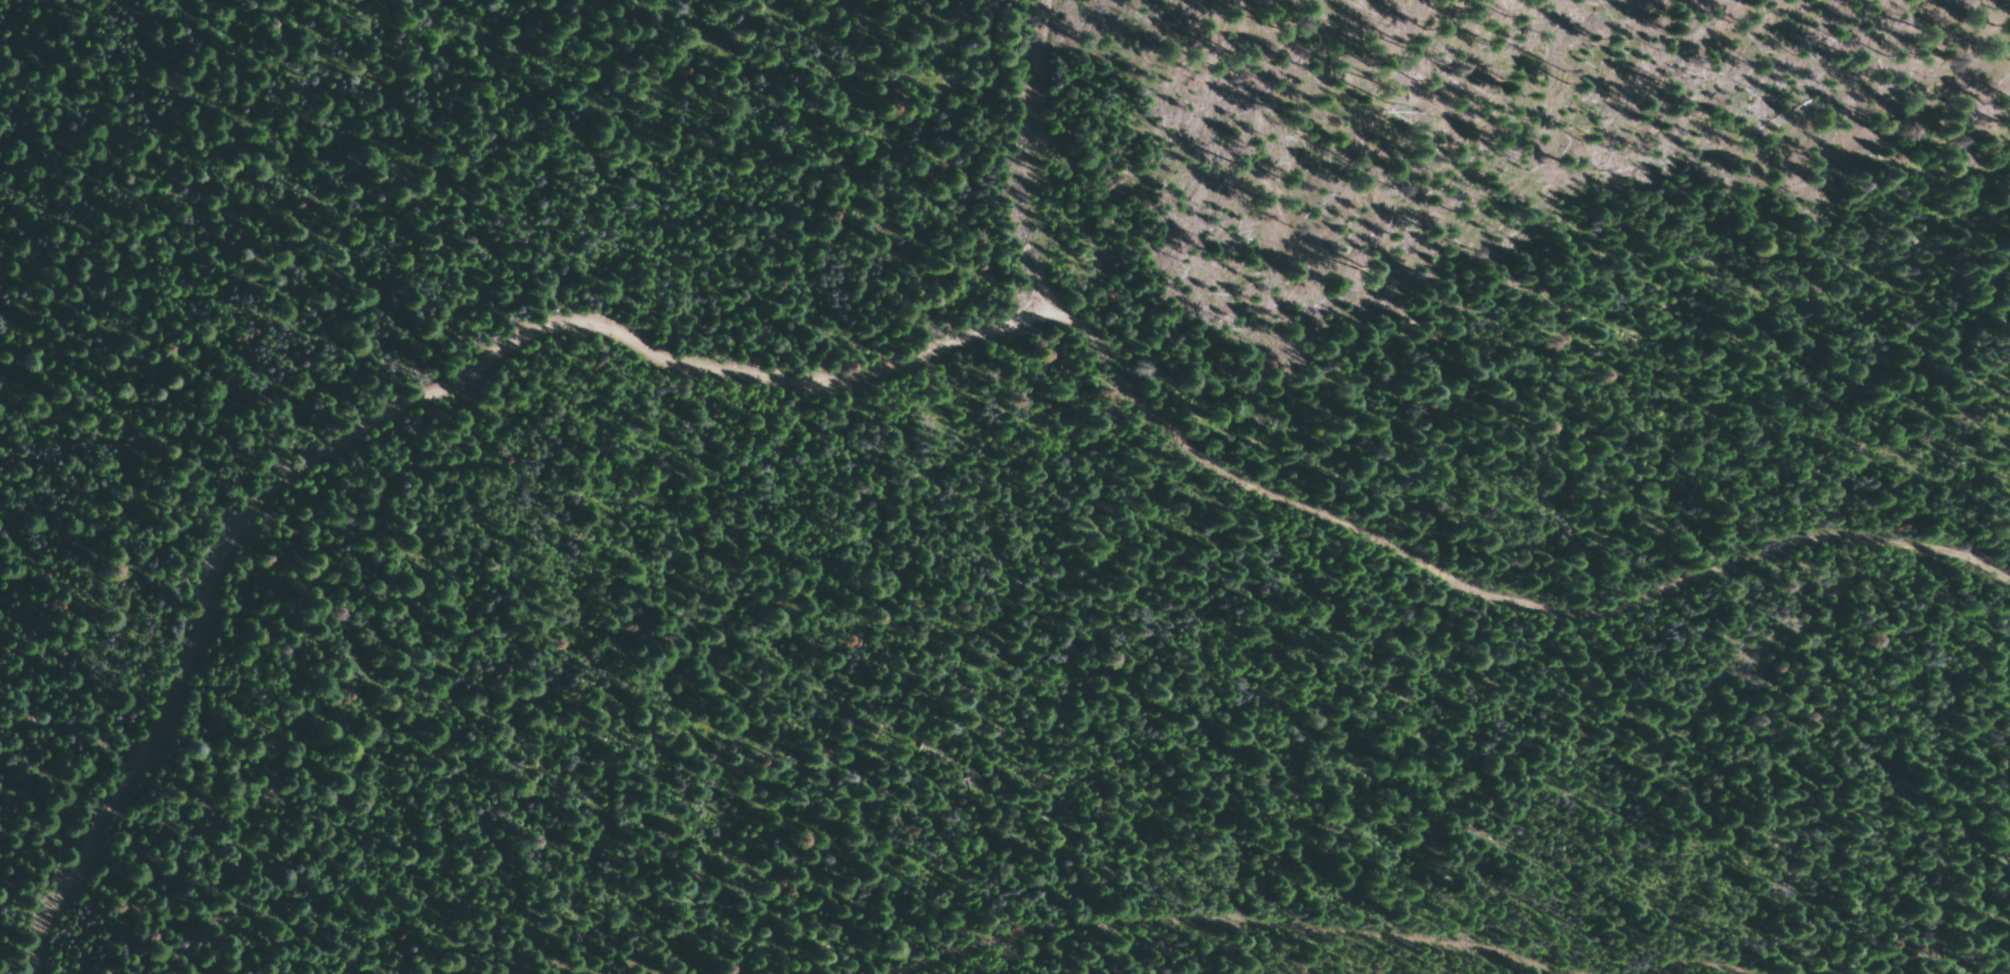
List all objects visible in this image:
road: (44, 105)
road: (1039, 134)
road: (408, 412)
road: (1480, 536)
road: (1333, 893)

